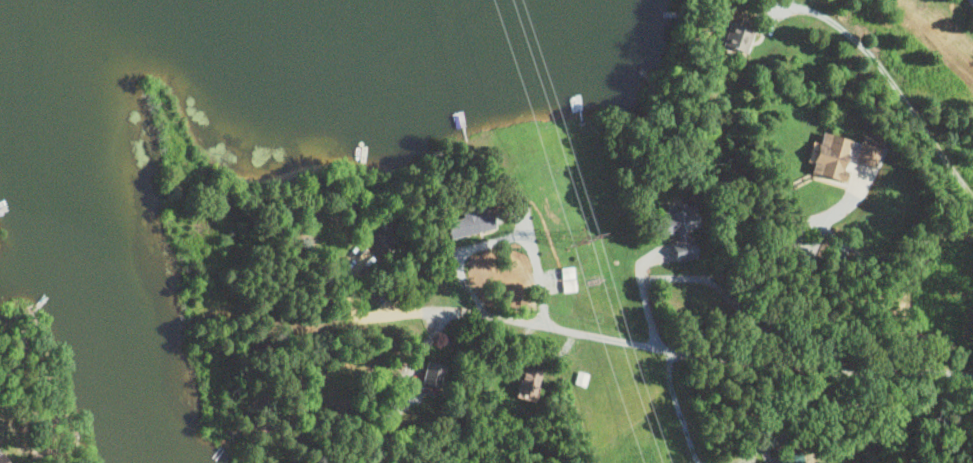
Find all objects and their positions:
road: (900, 96)
building: (826, 158)
building: (477, 224)
building: (669, 225)
power tower: (576, 242)
building: (378, 247)
building: (681, 251)
building: (564, 275)
road: (721, 358)
building: (437, 375)
building: (530, 382)
building: (1, 458)

